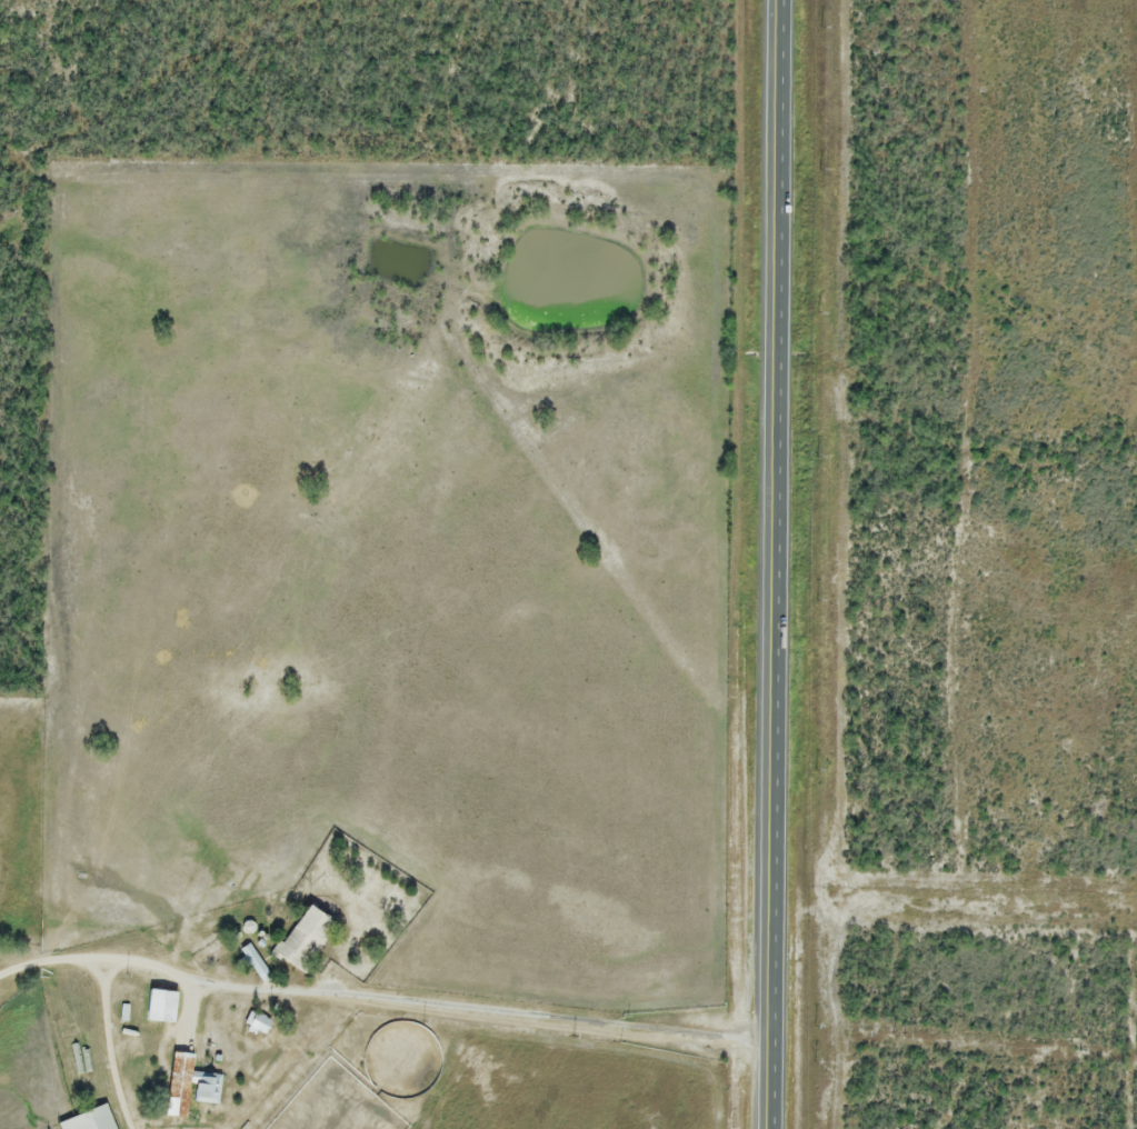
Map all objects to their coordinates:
road: (777, 563)
building: (301, 940)
road: (140, 956)
building: (158, 1008)
road: (528, 1008)
building: (255, 1023)
building: (186, 1087)
building: (87, 1120)

